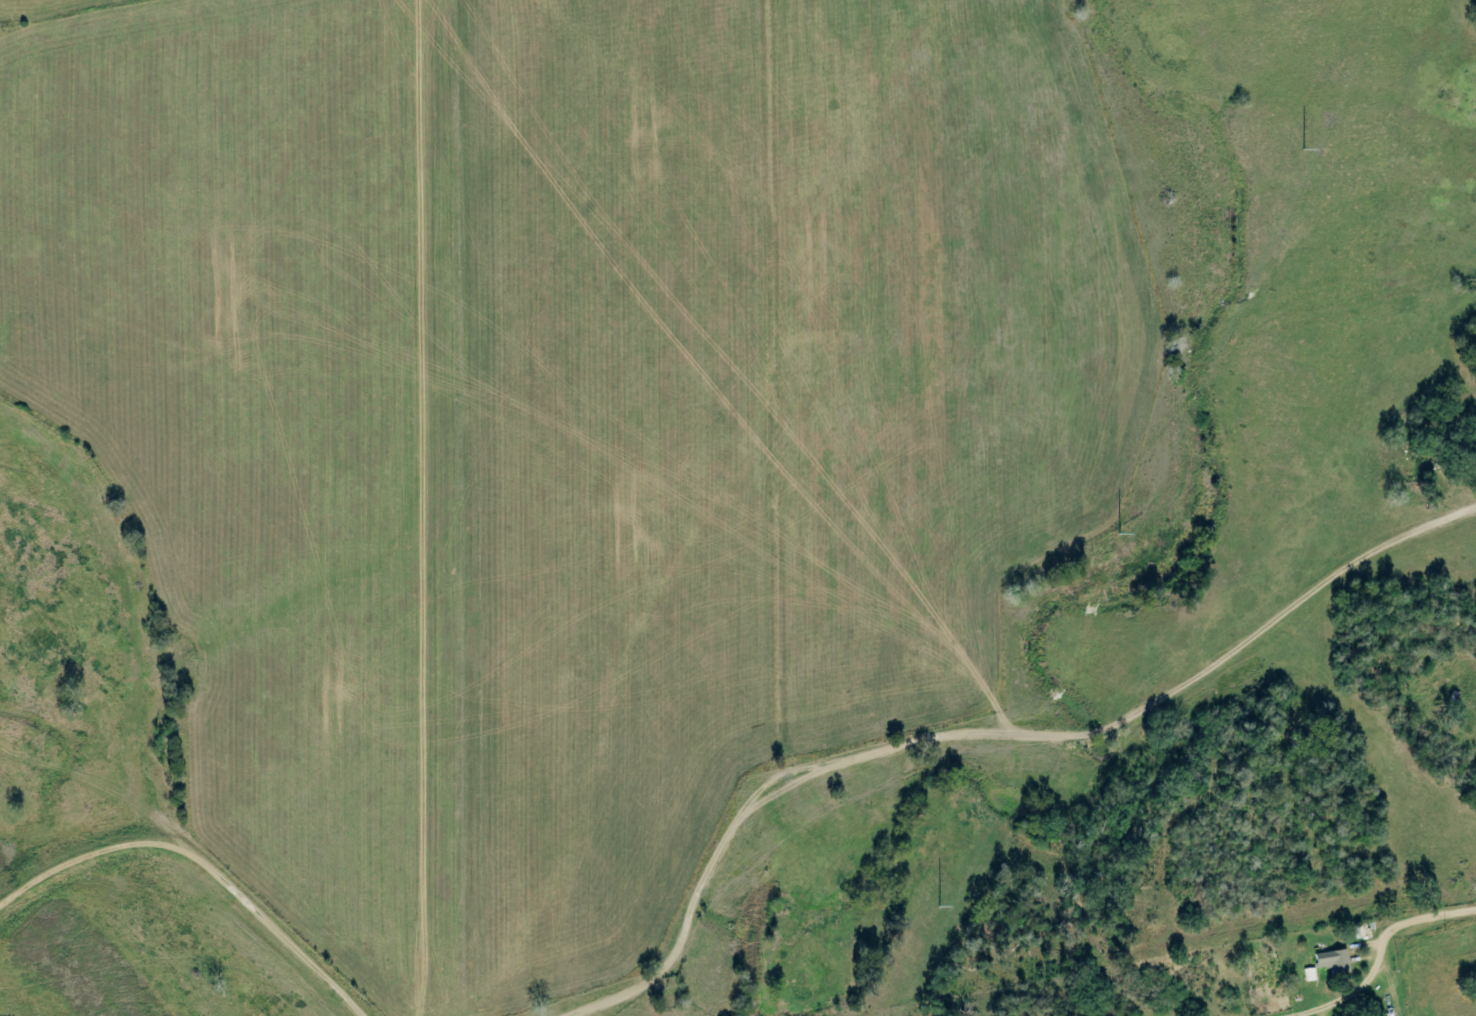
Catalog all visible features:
road: (1027, 742)
road: (159, 895)
road: (1398, 931)

